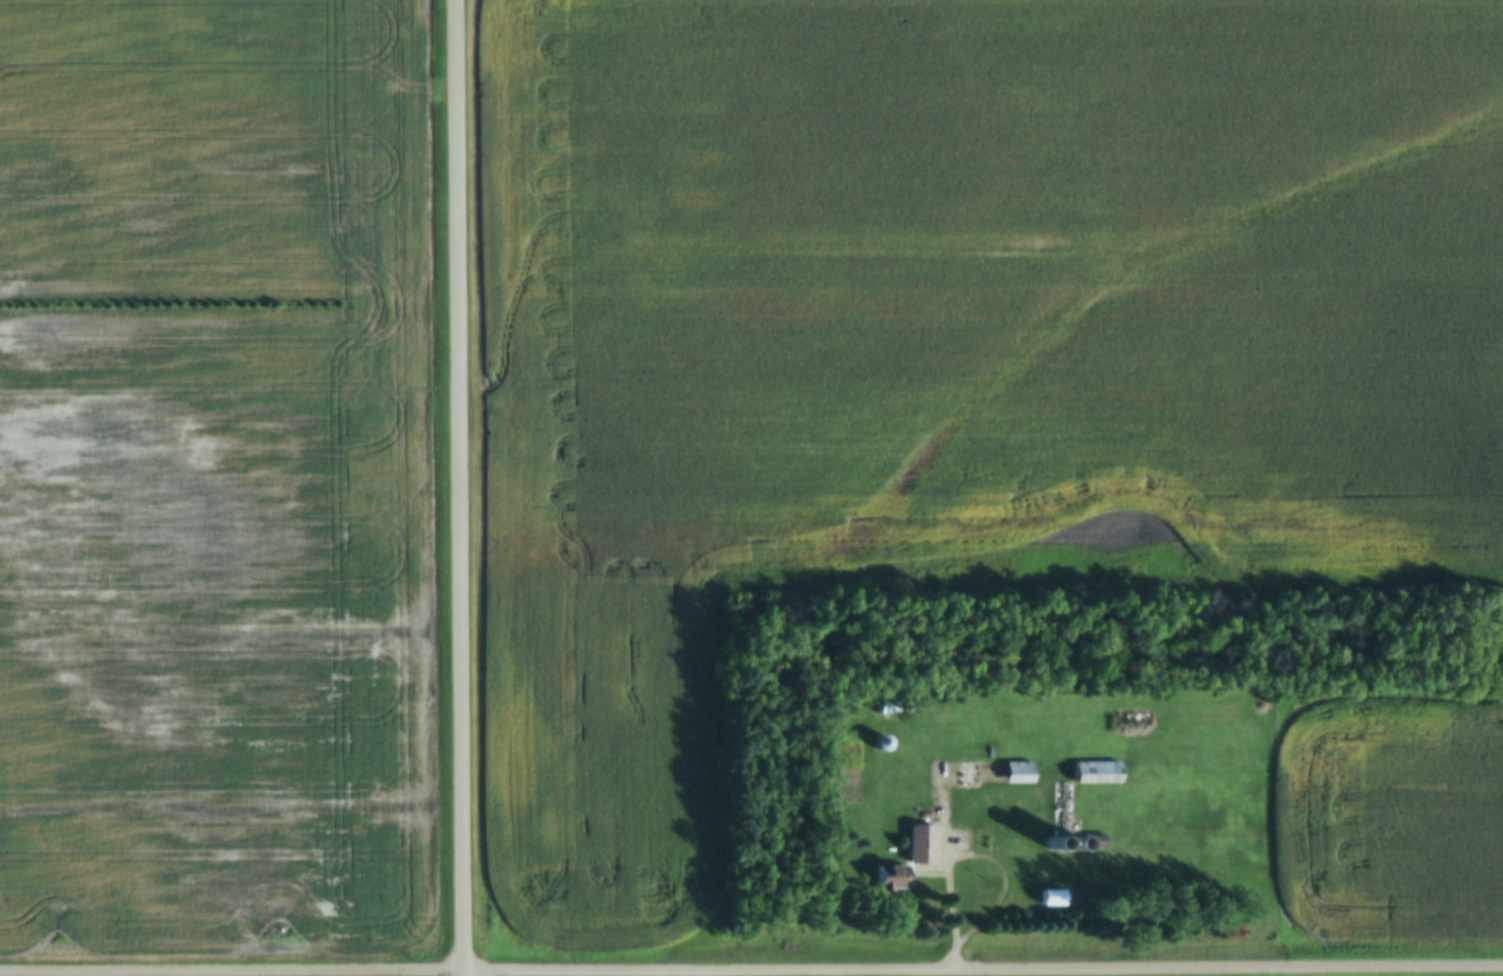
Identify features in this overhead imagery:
crop: (213, 479)
road: (464, 488)
building: (880, 745)
building: (993, 773)
building: (1062, 808)
building: (893, 814)
building: (920, 845)
road: (984, 859)
building: (890, 878)
building: (1051, 898)
road: (985, 969)
road: (234, 971)

